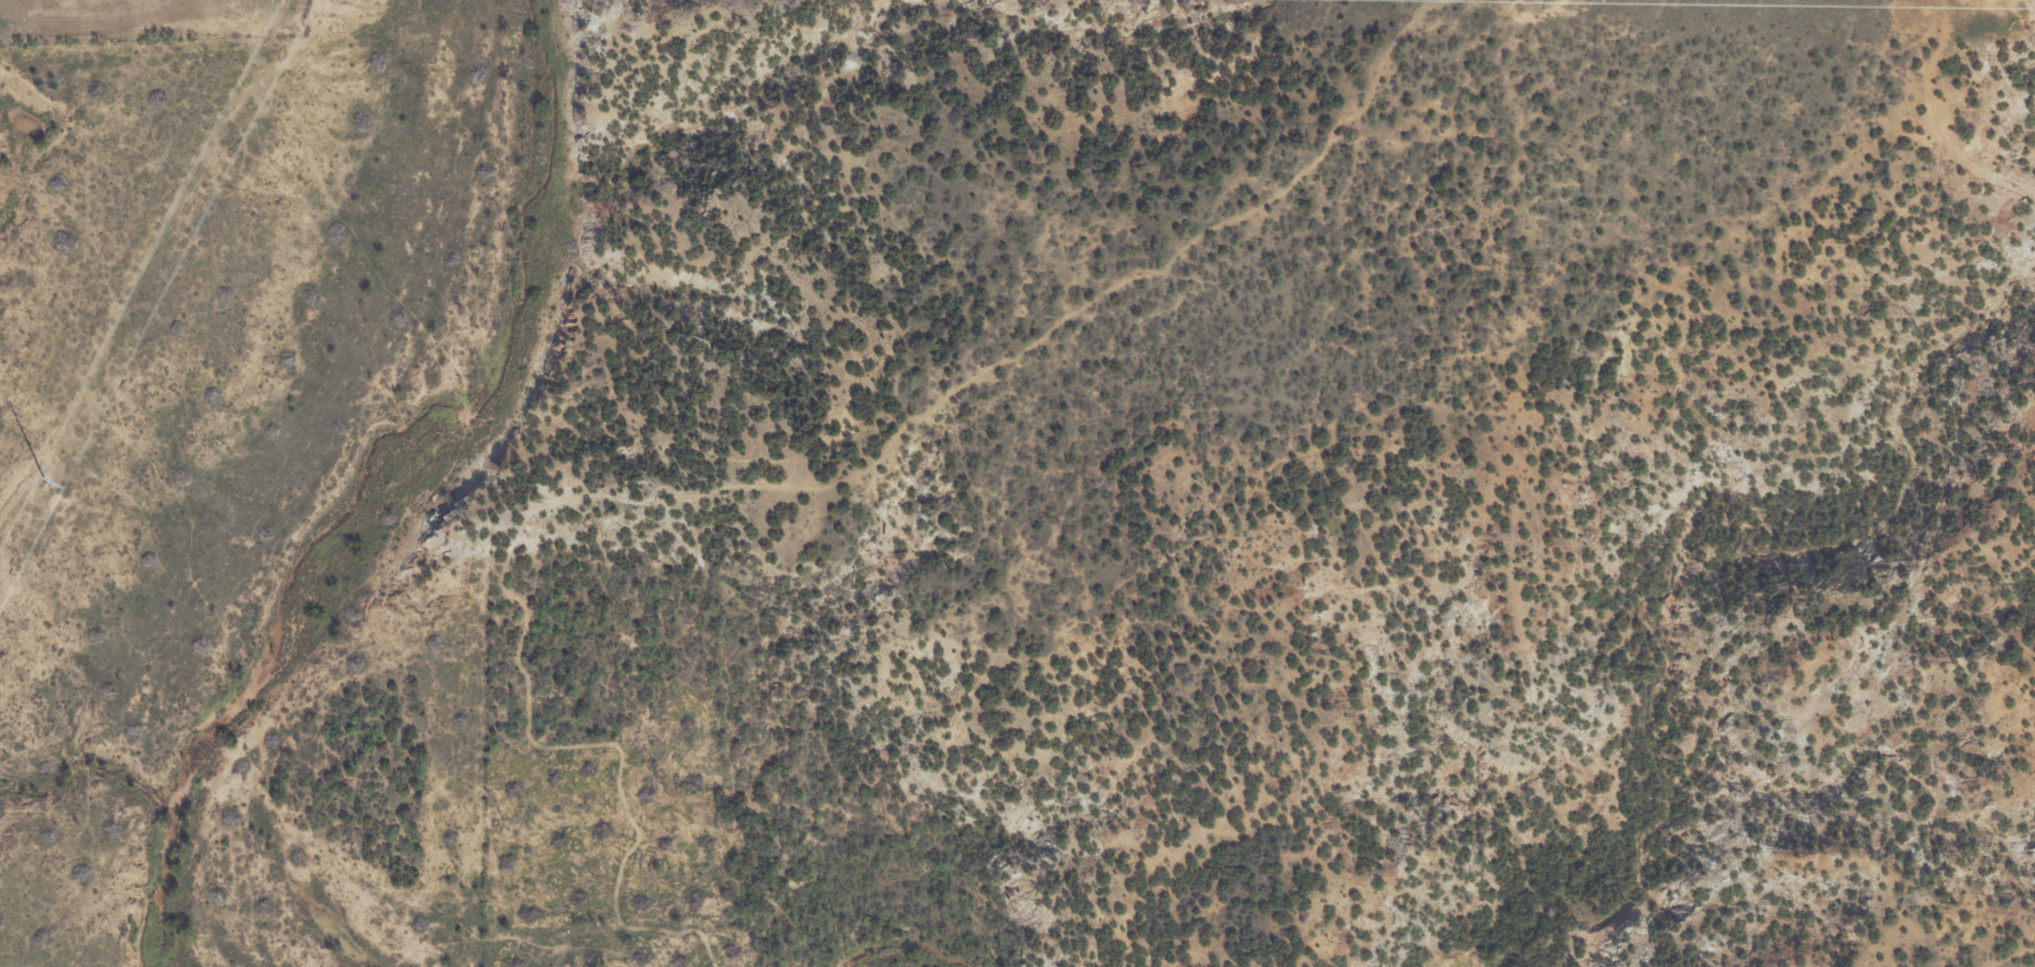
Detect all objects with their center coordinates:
power tower: (44, 481)

